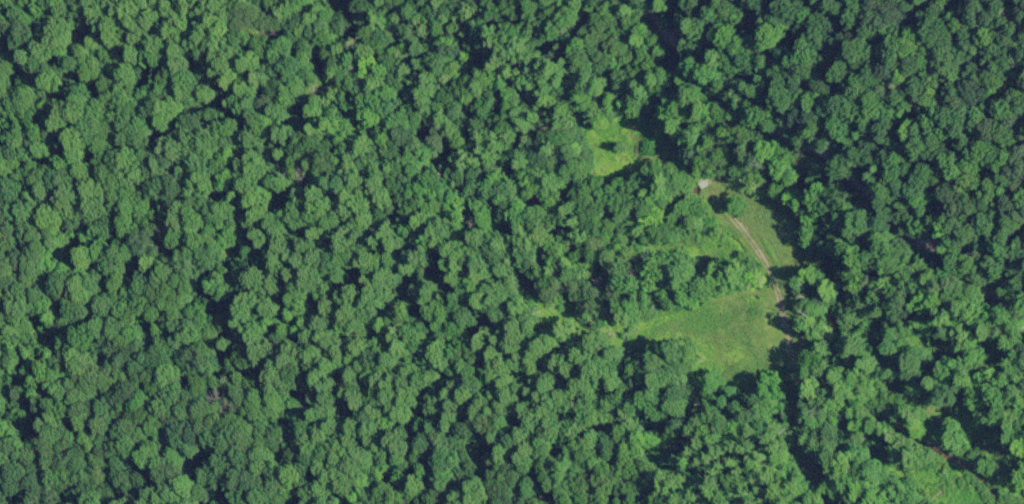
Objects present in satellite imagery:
road: (827, 158)

